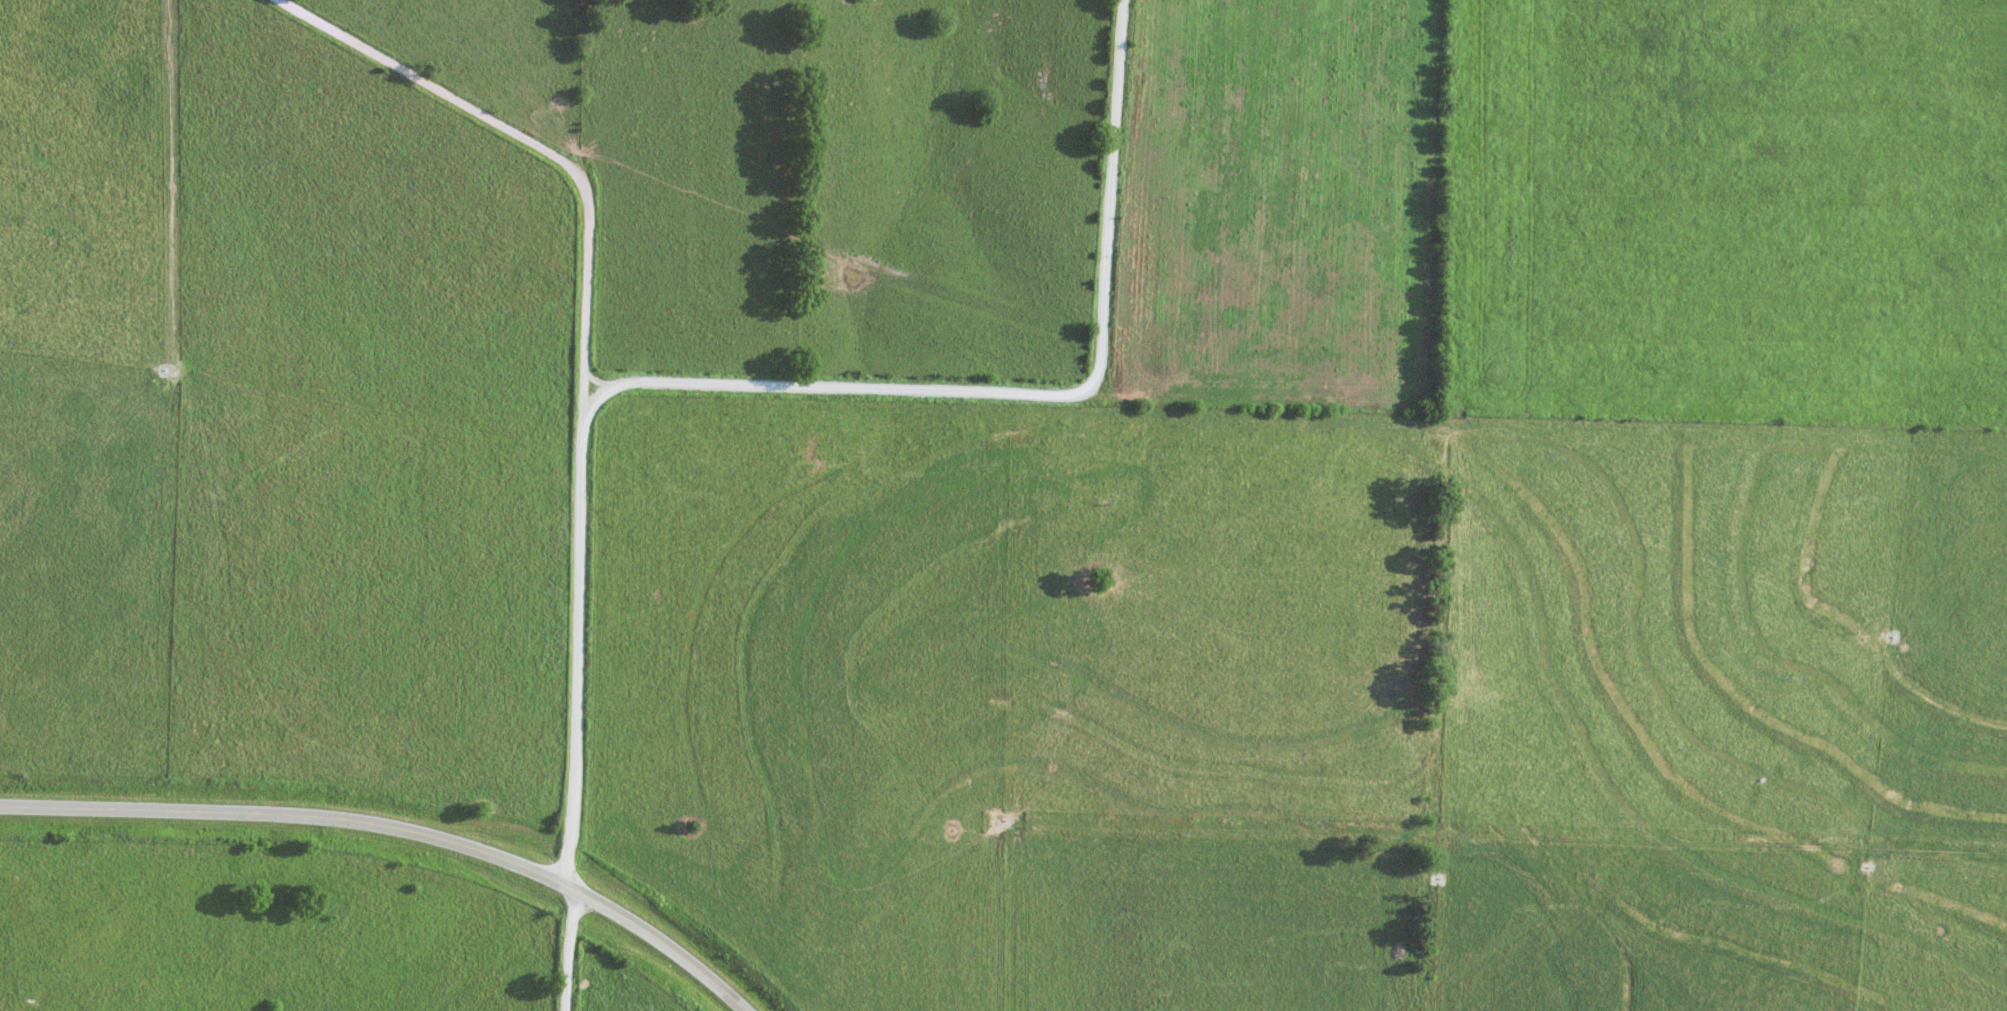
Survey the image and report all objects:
road: (534, 145)
road: (796, 388)
road: (397, 828)
road: (570, 952)

